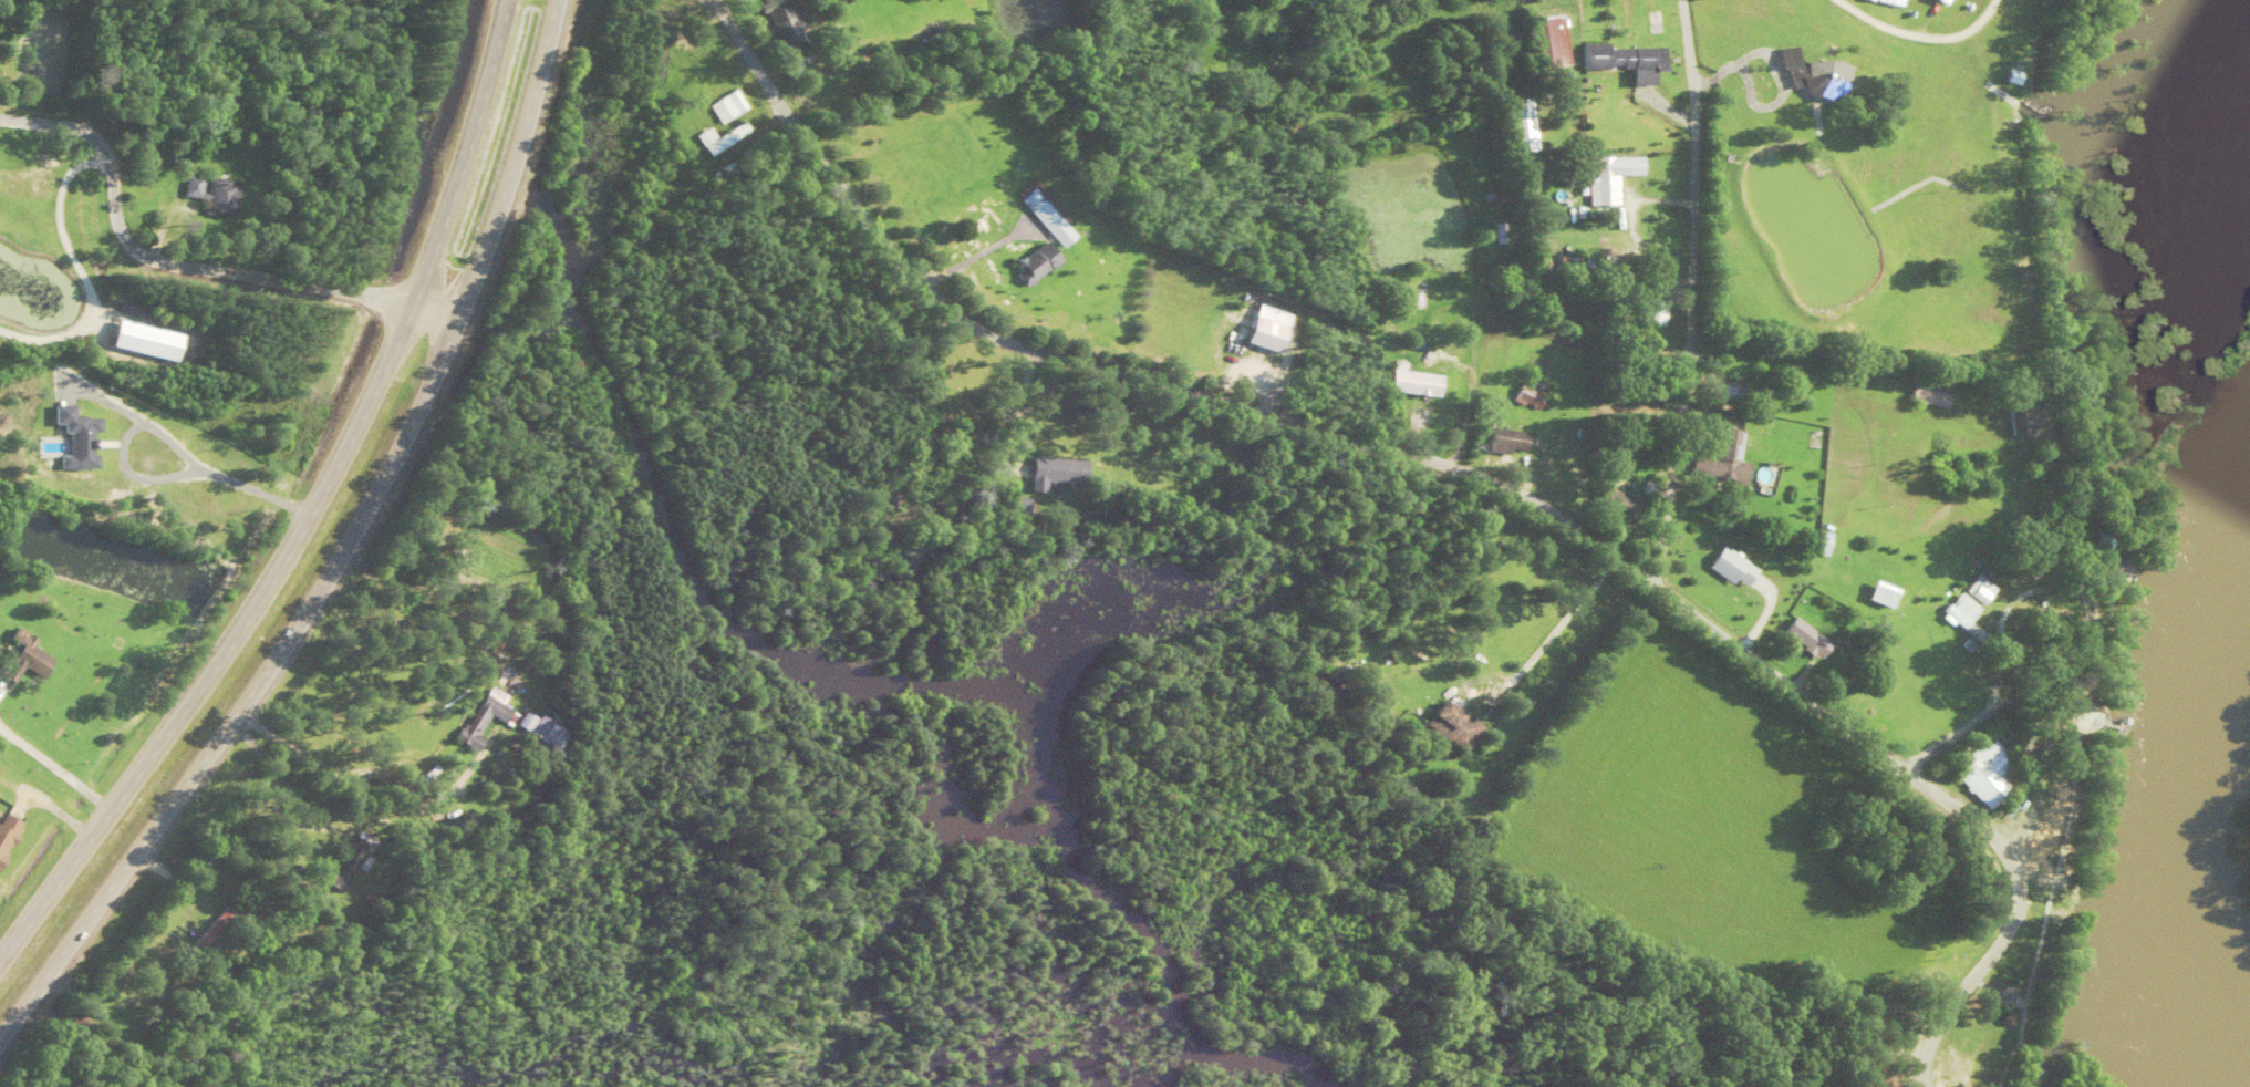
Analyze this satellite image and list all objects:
building: (1887, 1)
building: (1937, 1)
road: (1920, 34)
building: (1548, 40)
building: (1620, 60)
building: (1810, 73)
building: (1521, 124)
building: (1605, 177)
road: (164, 256)
road: (1690, 289)
road: (435, 300)
building: (1649, 312)
building: (1259, 328)
building: (1408, 381)
building: (1717, 391)
building: (1524, 392)
building: (1926, 393)
building: (2018, 413)
building: (1503, 439)
building: (1719, 459)
road: (1469, 465)
building: (1616, 503)
road: (309, 507)
building: (1818, 542)
road: (341, 549)
building: (1728, 566)
building: (2111, 567)
building: (1976, 589)
building: (1876, 593)
building: (1958, 614)
building: (1802, 636)
river: (2195, 650)
road: (2043, 670)
building: (1450, 724)
building: (1981, 773)
river: (2165, 948)

